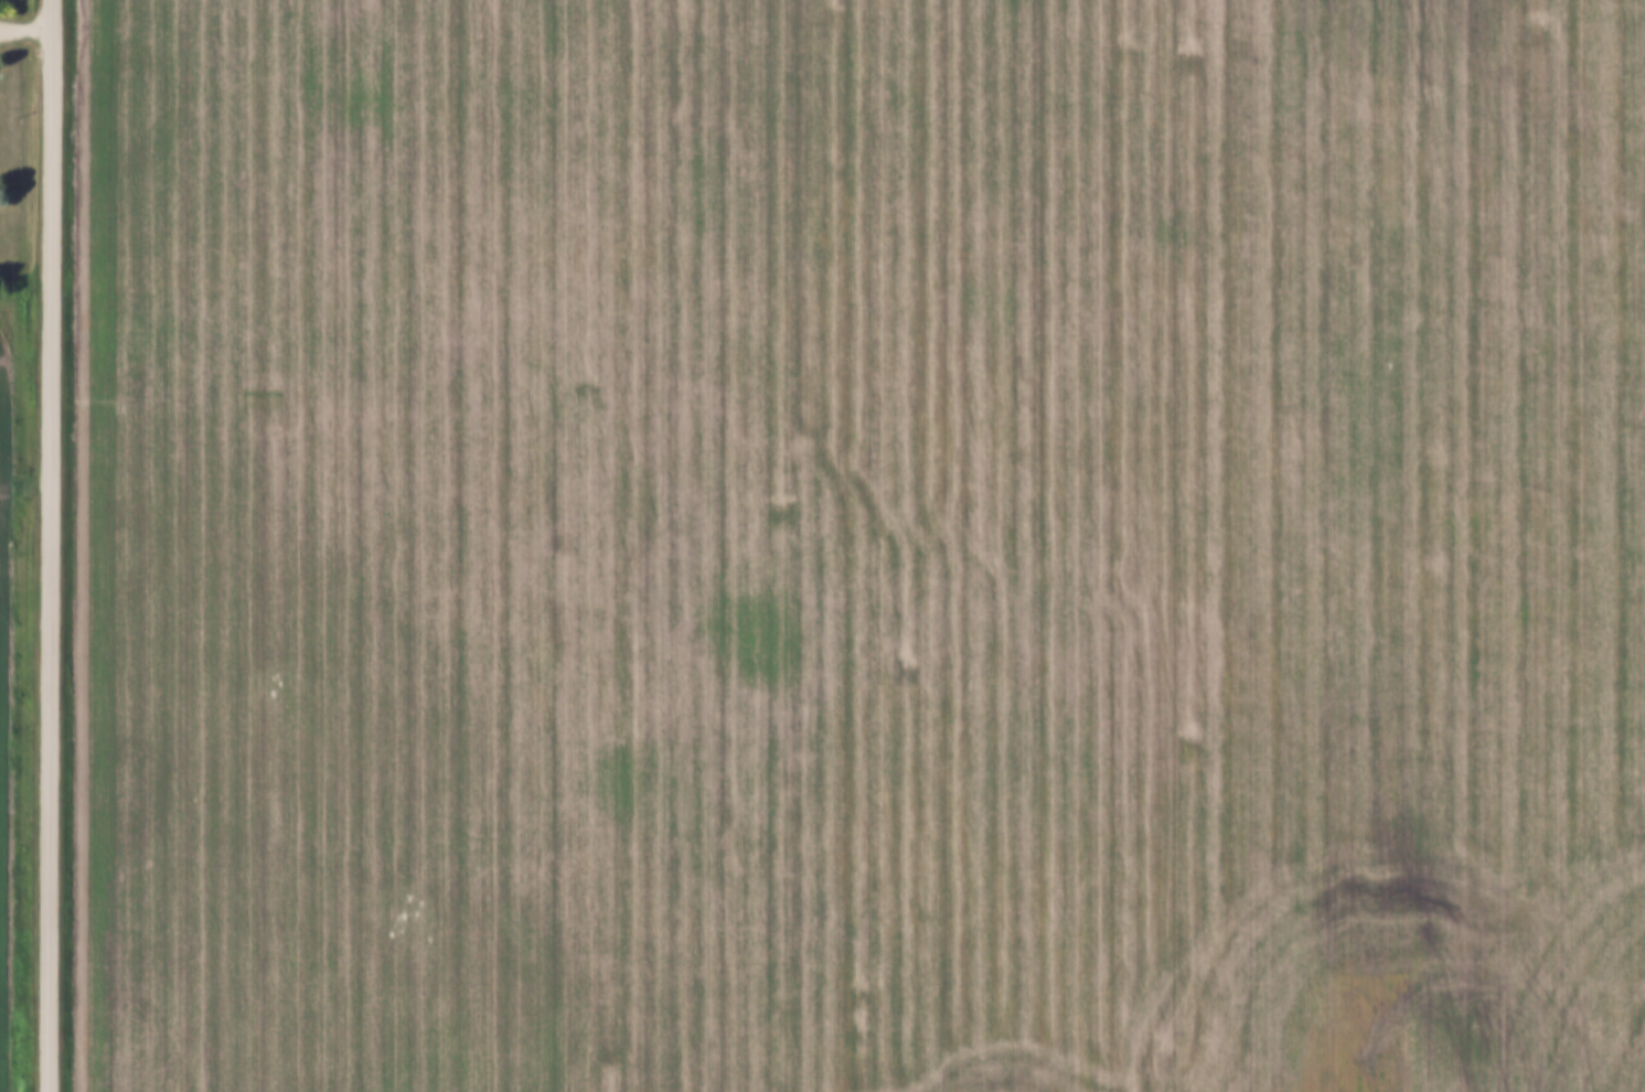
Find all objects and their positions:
road: (24, 23)
road: (49, 545)

